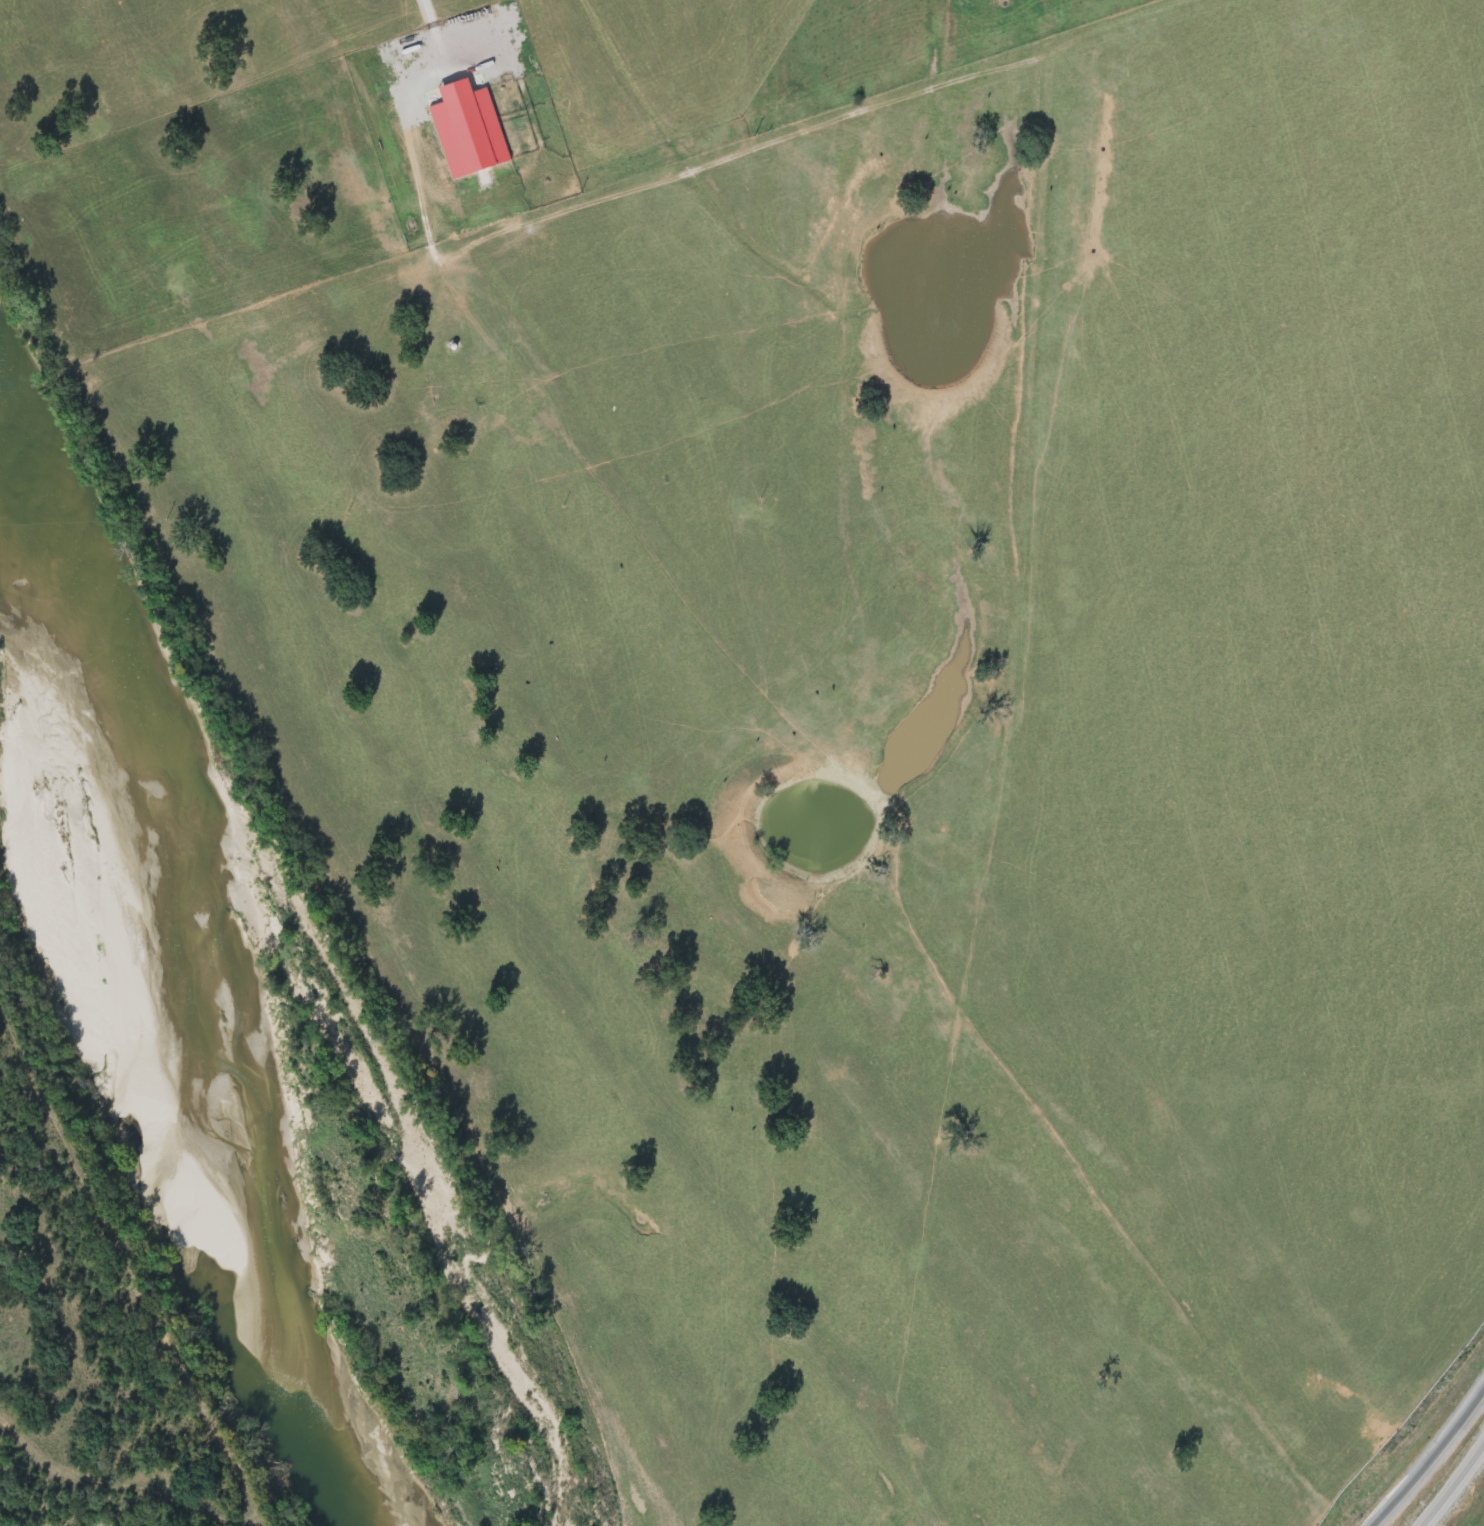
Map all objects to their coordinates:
river: (158, 988)
road: (1427, 1453)
road: (1450, 1482)

